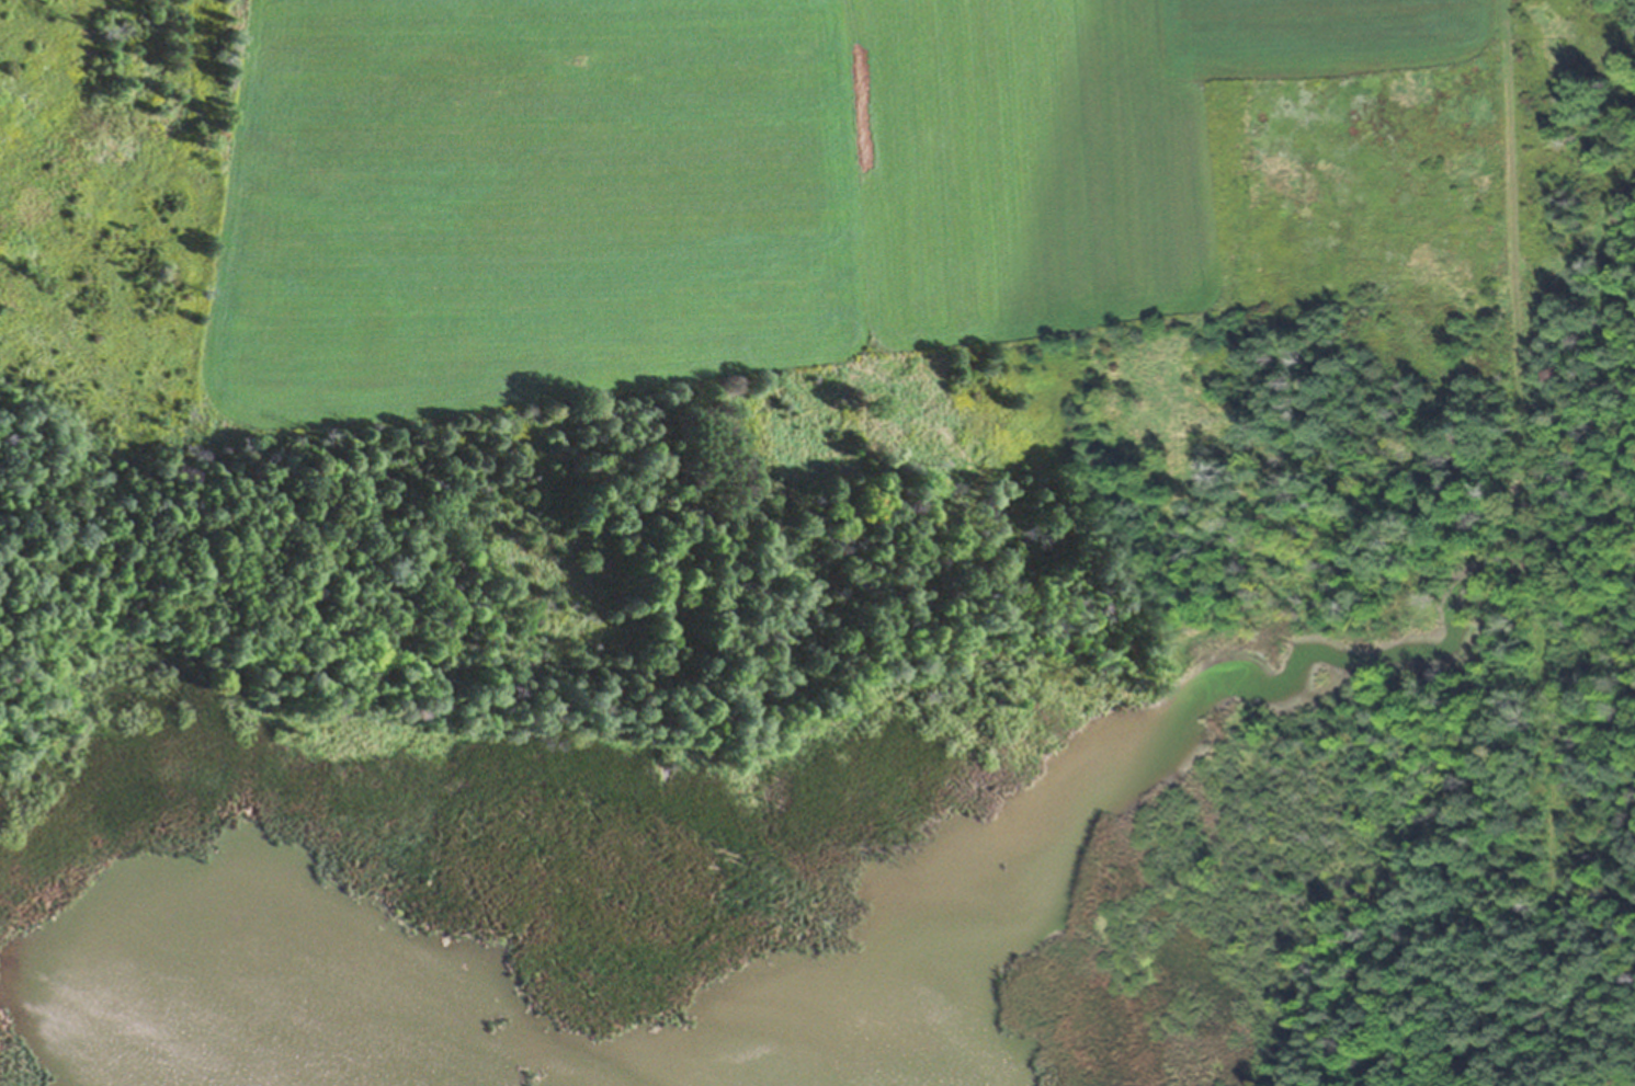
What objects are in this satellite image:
crop: (1222, 158)
crop: (1609, 1077)

